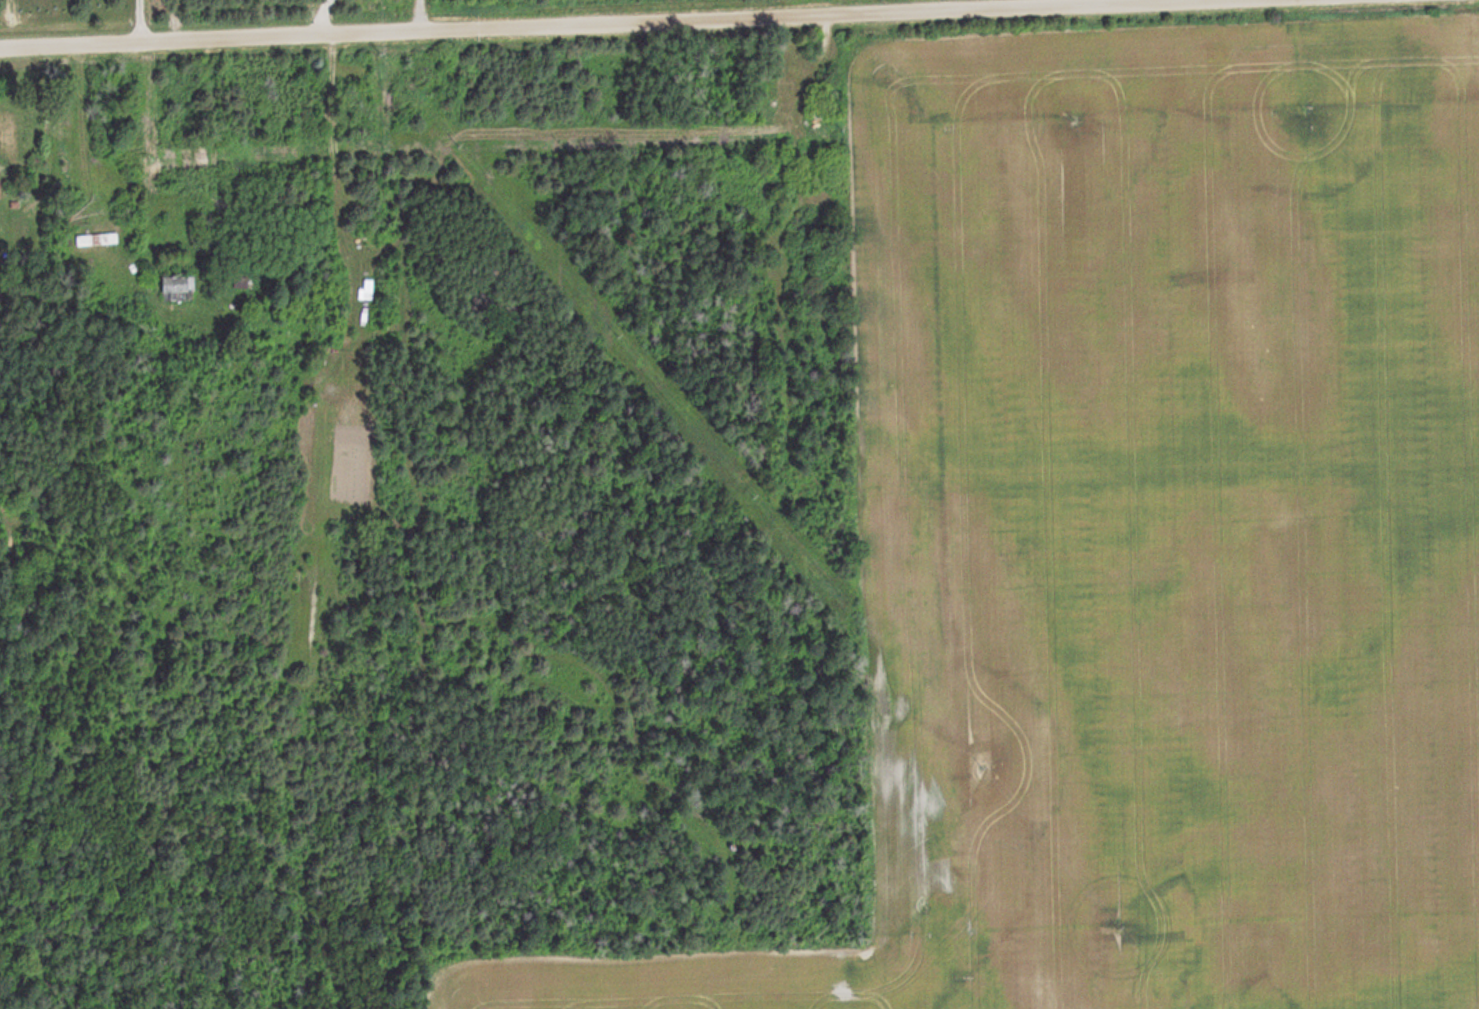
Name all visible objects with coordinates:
road: (555, 21)
building: (2, 188)
building: (101, 239)
building: (181, 288)

